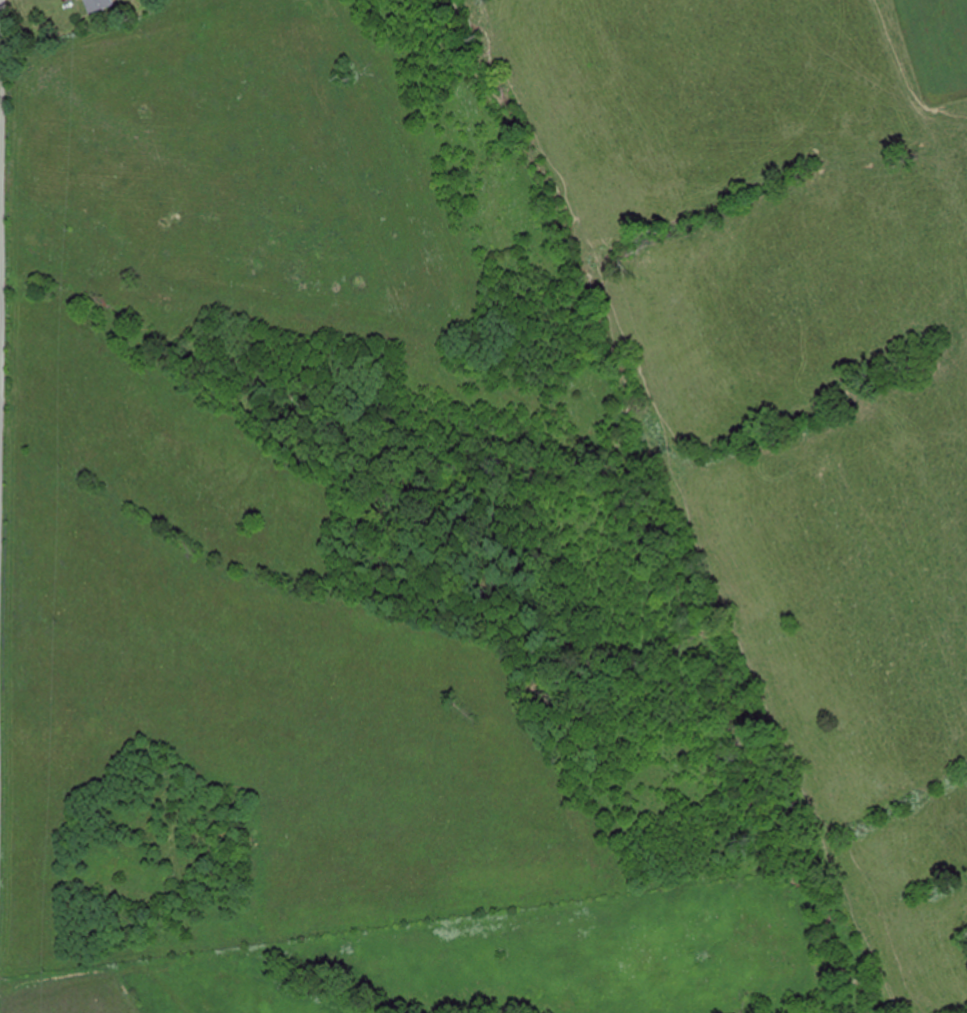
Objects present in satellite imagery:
building: (94, 5)
road: (2, 208)

